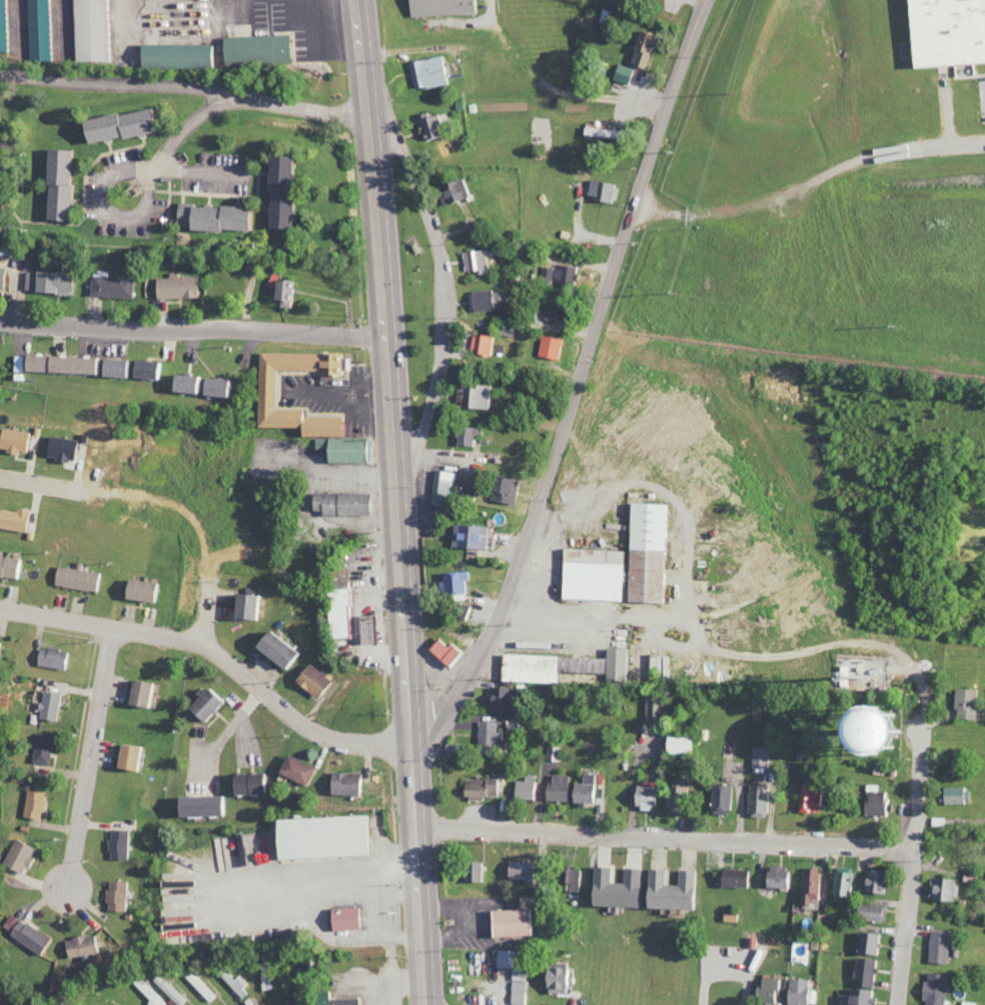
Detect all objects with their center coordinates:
building: (442, 7)
building: (40, 30)
building: (91, 31)
building: (945, 32)
building: (642, 49)
building: (255, 50)
building: (175, 56)
building: (427, 73)
building: (621, 74)
road: (187, 84)
building: (431, 126)
building: (116, 127)
road: (187, 128)
building: (593, 133)
road: (200, 171)
road: (809, 179)
building: (56, 186)
road: (103, 187)
building: (455, 191)
building: (600, 192)
building: (278, 193)
building: (210, 218)
building: (477, 262)
building: (562, 275)
building: (1, 278)
building: (53, 282)
building: (111, 285)
building: (176, 287)
building: (283, 292)
building: (485, 300)
road: (447, 309)
building: (556, 313)
road: (195, 326)
building: (483, 344)
building: (551, 347)
building: (88, 365)
road: (393, 373)
road: (582, 383)
building: (201, 385)
building: (266, 390)
building: (472, 397)
building: (466, 435)
building: (12, 440)
building: (60, 448)
building: (342, 449)
road: (34, 482)
building: (442, 488)
building: (503, 489)
building: (465, 491)
building: (341, 503)
building: (13, 519)
building: (468, 536)
building: (648, 552)
building: (10, 567)
building: (592, 574)
building: (76, 579)
building: (453, 584)
building: (140, 590)
building: (246, 606)
building: (338, 611)
road: (207, 616)
road: (546, 619)
building: (366, 629)
building: (0, 649)
building: (275, 650)
road: (219, 653)
building: (445, 653)
building: (53, 658)
building: (663, 665)
building: (563, 666)
building: (312, 680)
building: (140, 693)
building: (499, 700)
building: (964, 703)
building: (201, 704)
building: (50, 706)
road: (237, 721)
building: (836, 725)
water tower: (880, 731)
building: (487, 736)
building: (677, 744)
road: (921, 749)
building: (43, 750)
building: (128, 757)
building: (759, 757)
road: (92, 764)
building: (296, 770)
building: (344, 783)
building: (482, 787)
building: (524, 789)
building: (556, 789)
building: (584, 791)
building: (953, 796)
building: (645, 797)
building: (675, 797)
building: (720, 799)
building: (808, 799)
building: (757, 801)
building: (876, 801)
building: (34, 804)
building: (199, 806)
building: (320, 837)
road: (667, 838)
building: (118, 844)
building: (18, 857)
building: (472, 872)
road: (325, 876)
road: (423, 876)
building: (775, 877)
building: (732, 878)
building: (570, 879)
building: (873, 882)
building: (840, 883)
building: (808, 885)
building: (614, 888)
building: (670, 890)
building: (943, 890)
building: (116, 896)
road: (911, 899)
building: (870, 913)
building: (343, 918)
building: (509, 922)
building: (25, 934)
road: (345, 940)
building: (868, 943)
building: (80, 946)
building: (938, 947)
building: (864, 972)
building: (555, 978)
building: (236, 983)
building: (201, 986)
building: (933, 989)
building: (171, 990)
building: (150, 992)
building: (765, 992)
building: (796, 992)
building: (859, 997)
building: (333, 999)
building: (968, 1003)

